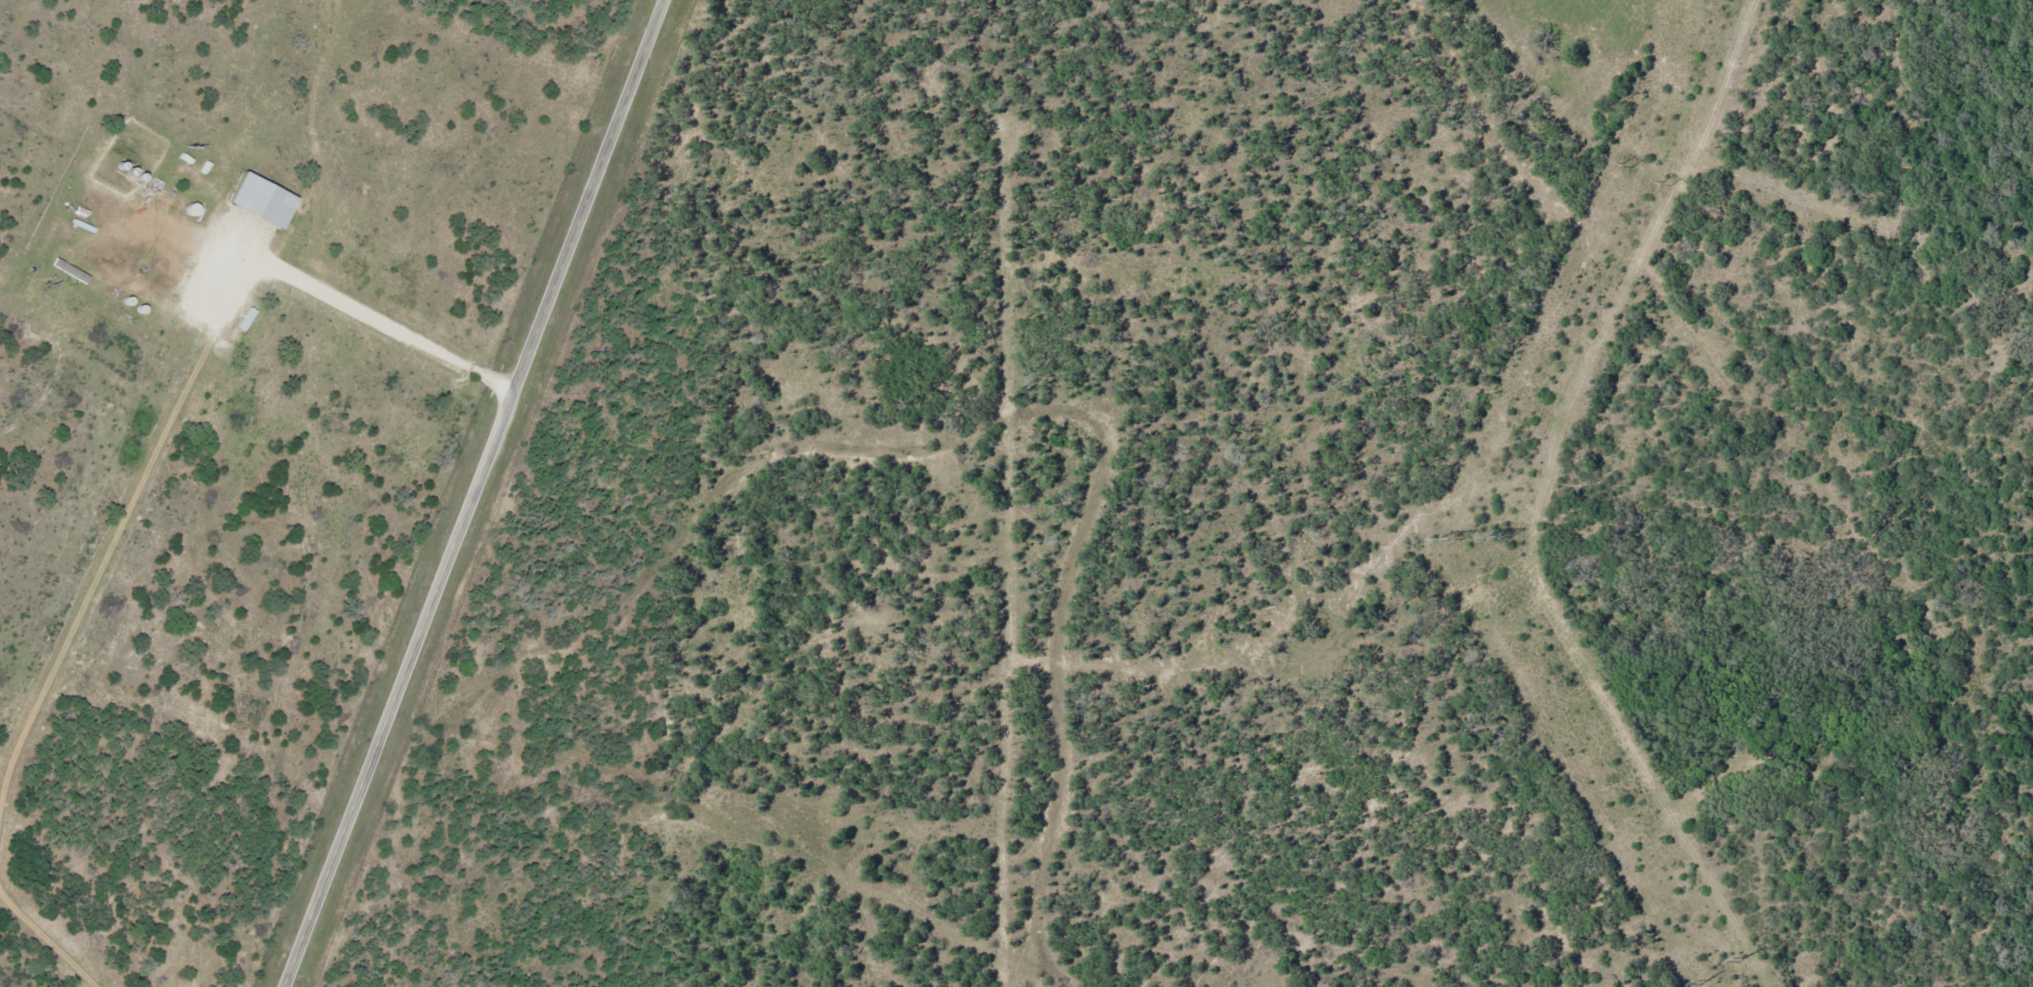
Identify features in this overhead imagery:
power tower: (1624, 165)
power tower: (1665, 184)
building: (205, 221)
storage tank: (205, 221)
building: (212, 225)
storage tank: (212, 225)
building: (219, 230)
storage tank: (219, 230)
road: (403, 334)
road: (473, 493)
power plant: (1263, 517)
power tower: (1496, 537)
power tower: (1443, 541)
power tower: (1739, 958)
power tower: (1701, 981)

